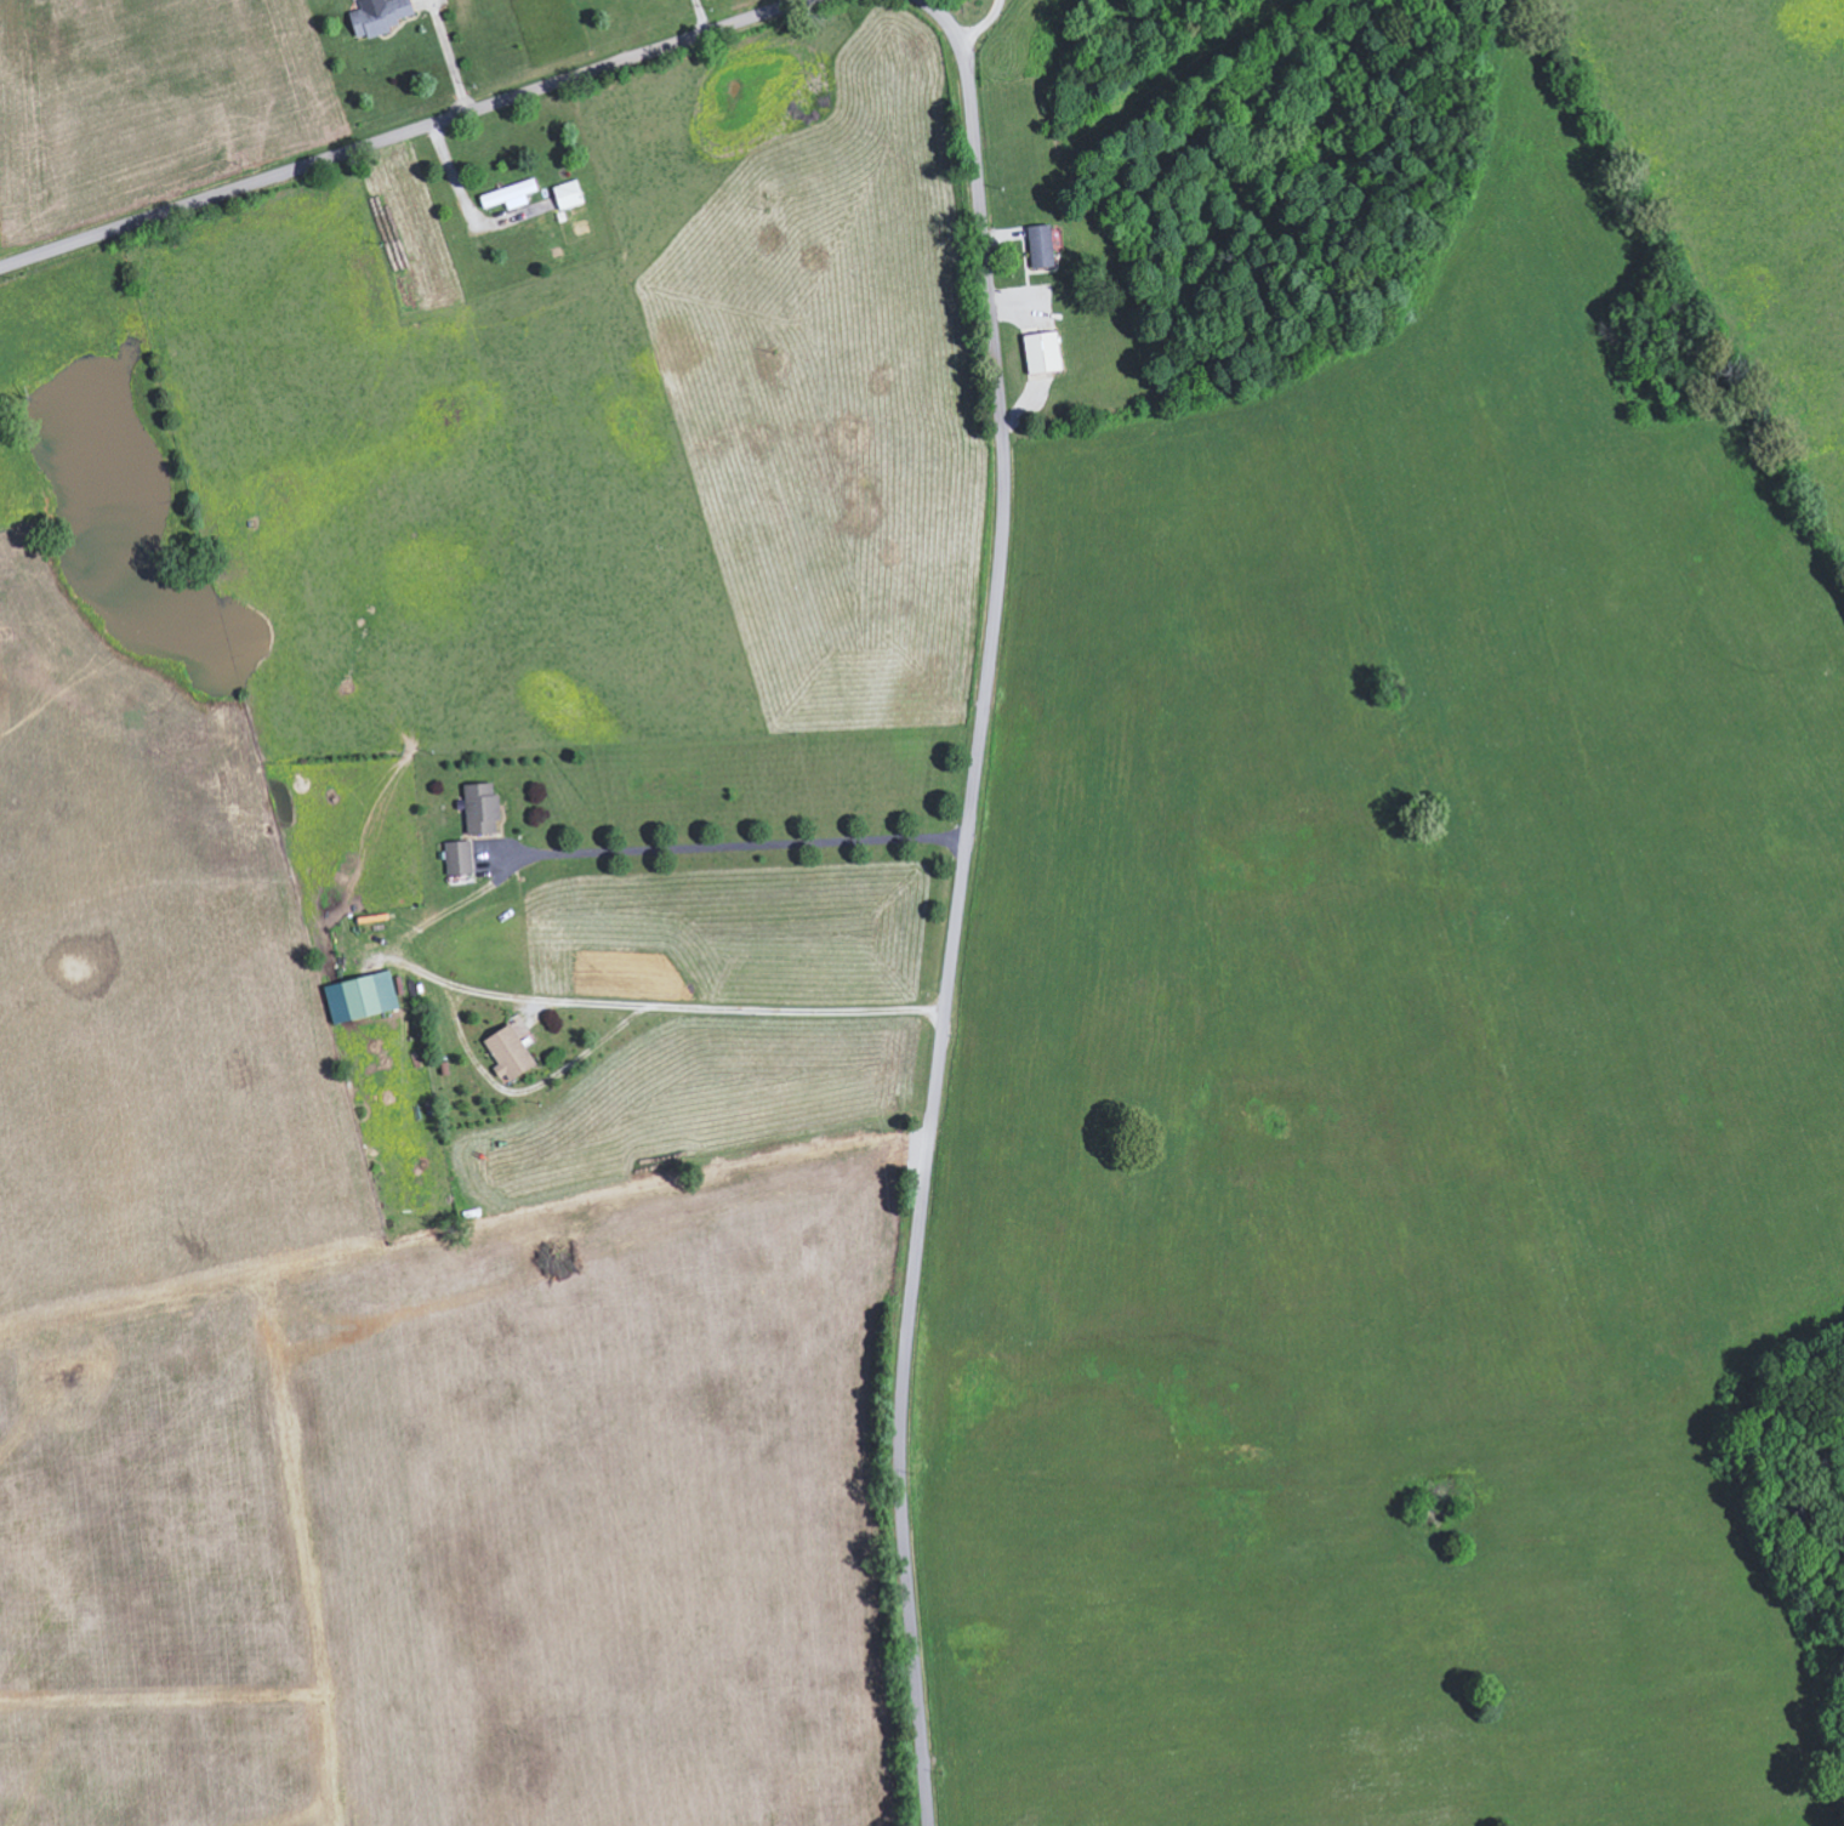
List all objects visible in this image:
building: (382, 15)
road: (981, 27)
road: (1112, 52)
road: (450, 58)
road: (415, 136)
building: (512, 194)
building: (570, 194)
building: (1042, 245)
building: (1045, 352)
building: (483, 809)
building: (460, 858)
road: (961, 901)
road: (408, 937)
building: (363, 997)
building: (511, 1054)

